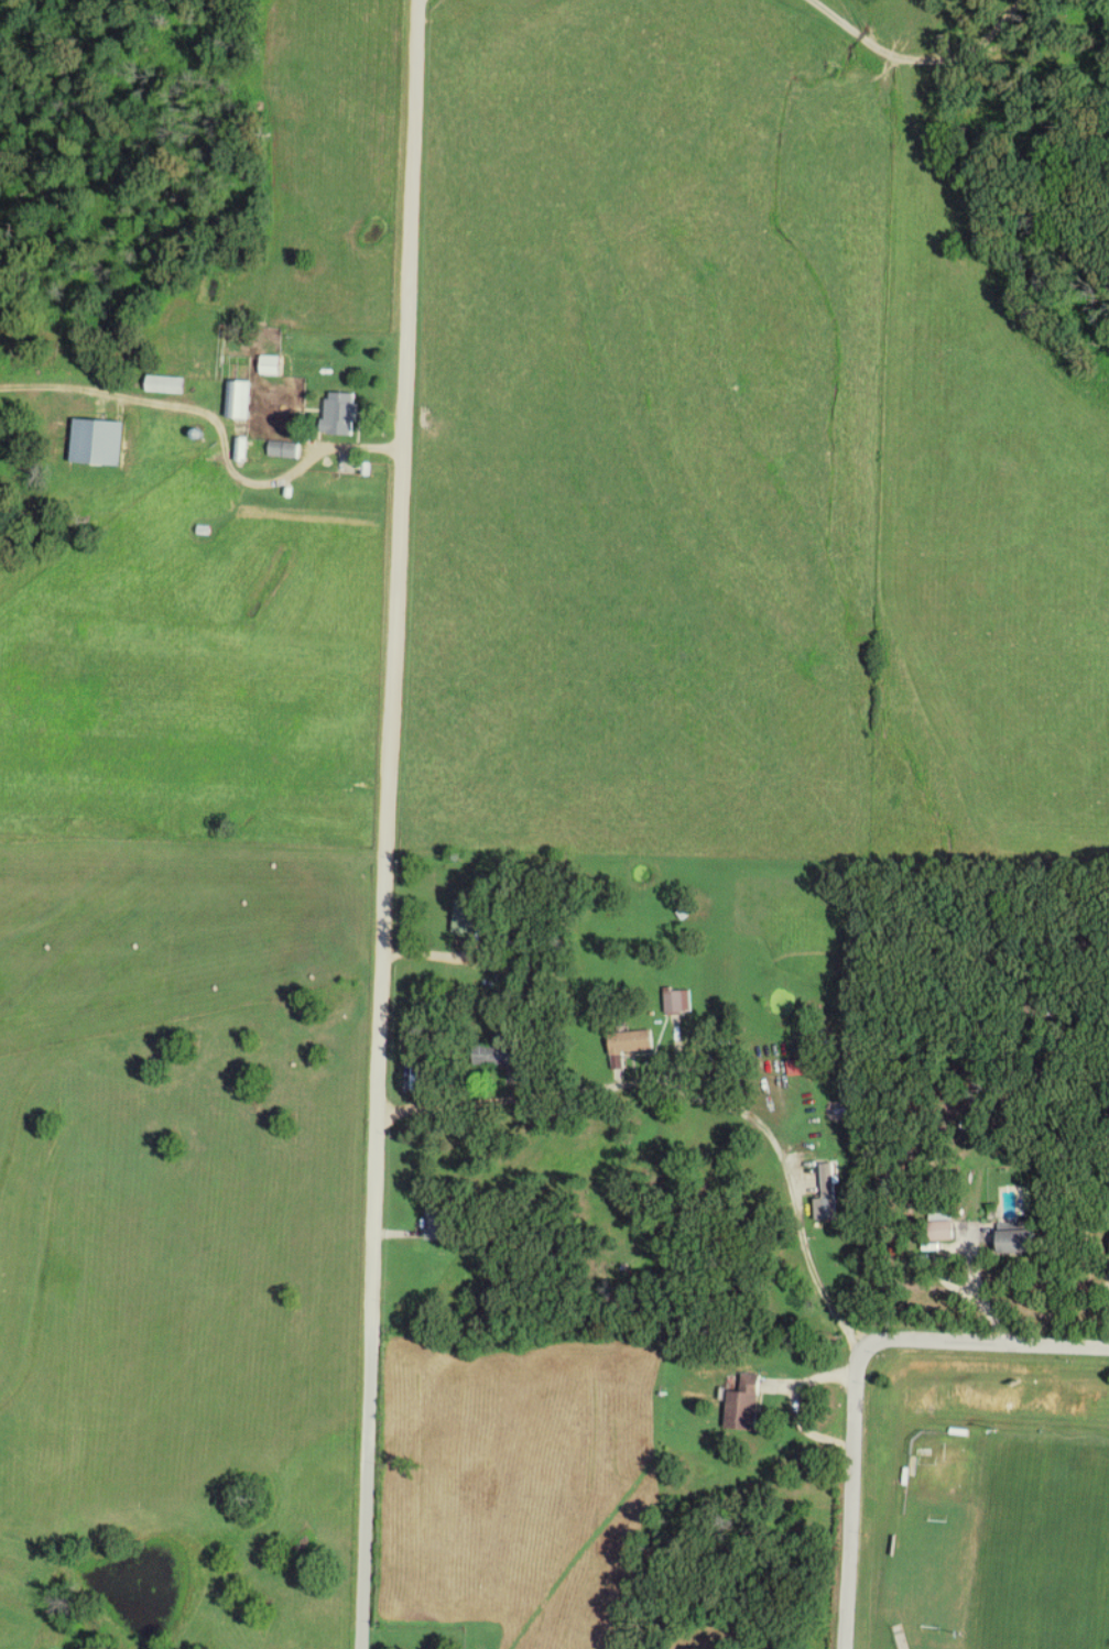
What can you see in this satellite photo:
road: (921, 59)
road: (760, 243)
building: (272, 365)
building: (167, 384)
building: (240, 400)
building: (341, 414)
road: (225, 439)
building: (99, 441)
building: (285, 449)
crop: (735, 460)
road: (396, 662)
building: (465, 917)
road: (430, 952)
building: (674, 1002)
building: (632, 1042)
building: (498, 1053)
building: (417, 1079)
road: (696, 1094)
building: (829, 1190)
building: (438, 1223)
building: (943, 1232)
building: (1018, 1237)
road: (987, 1341)
building: (744, 1404)
road: (368, 1486)
road: (852, 1495)

